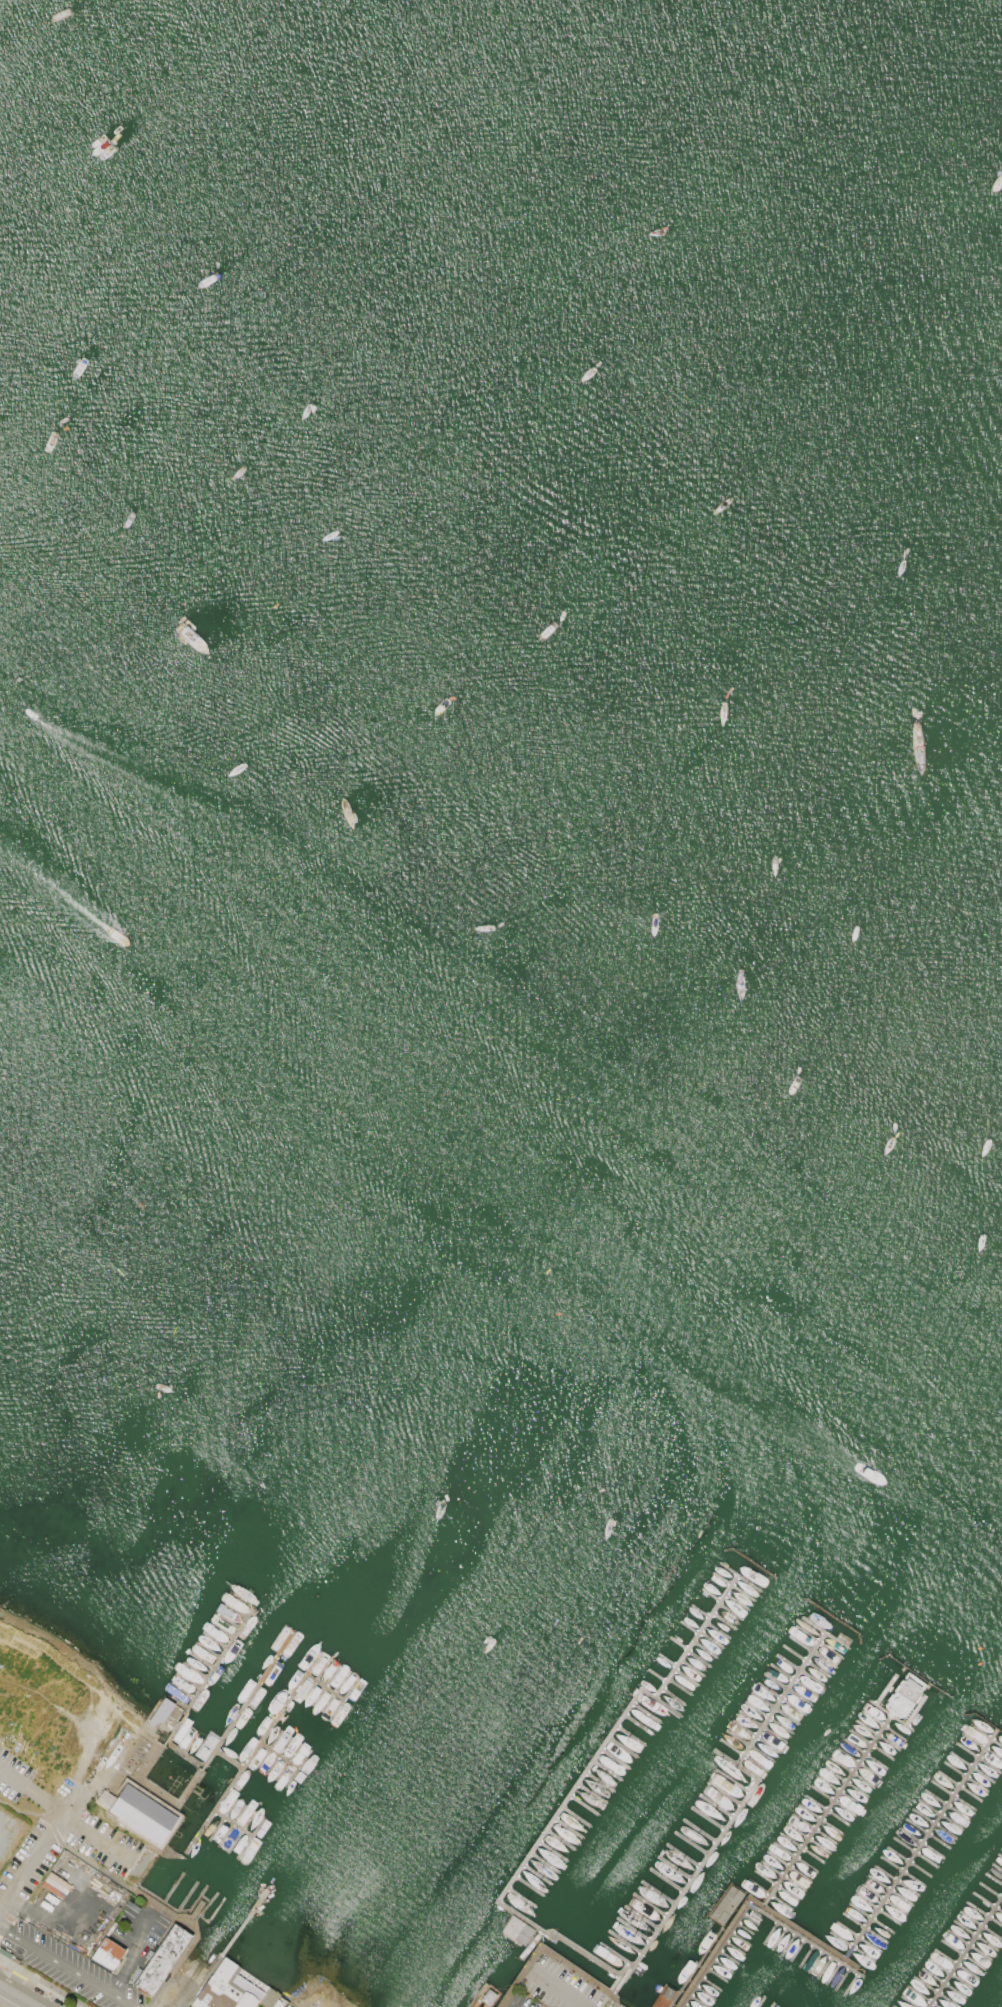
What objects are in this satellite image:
pier: (220, 1661)
pier: (261, 1685)
road: (91, 1688)
pier: (332, 1693)
building: (160, 1709)
pier: (288, 1710)
pier: (284, 1759)
road: (12, 1778)
pier: (239, 1779)
pier: (579, 1785)
road: (43, 1800)
pier: (740, 1808)
building: (141, 1815)
pier: (831, 1816)
road: (68, 1817)
pier: (233, 1825)
parking lot: (39, 1839)
road: (101, 1839)
parking lot: (100, 1843)
road: (63, 1844)
road: (40, 1845)
pier: (922, 1852)
building: (0, 1863)
pier: (755, 1906)
road: (195, 1908)
road: (189, 1917)
parking lot: (4, 1921)
pier: (516, 1928)
building: (515, 1930)
pier: (231, 1937)
road: (130, 1951)
pier: (966, 1952)
parking lot: (47, 1954)
building: (106, 1954)
road: (550, 1954)
building: (159, 1958)
railway: (66, 1968)
road: (66, 1968)
road: (533, 1971)
road: (557, 1988)
building: (221, 1989)
road: (158, 1990)
road: (177, 1991)
road: (19, 1996)
road: (593, 1997)
building: (269, 2000)
road: (503, 2004)
road: (506, 2006)

